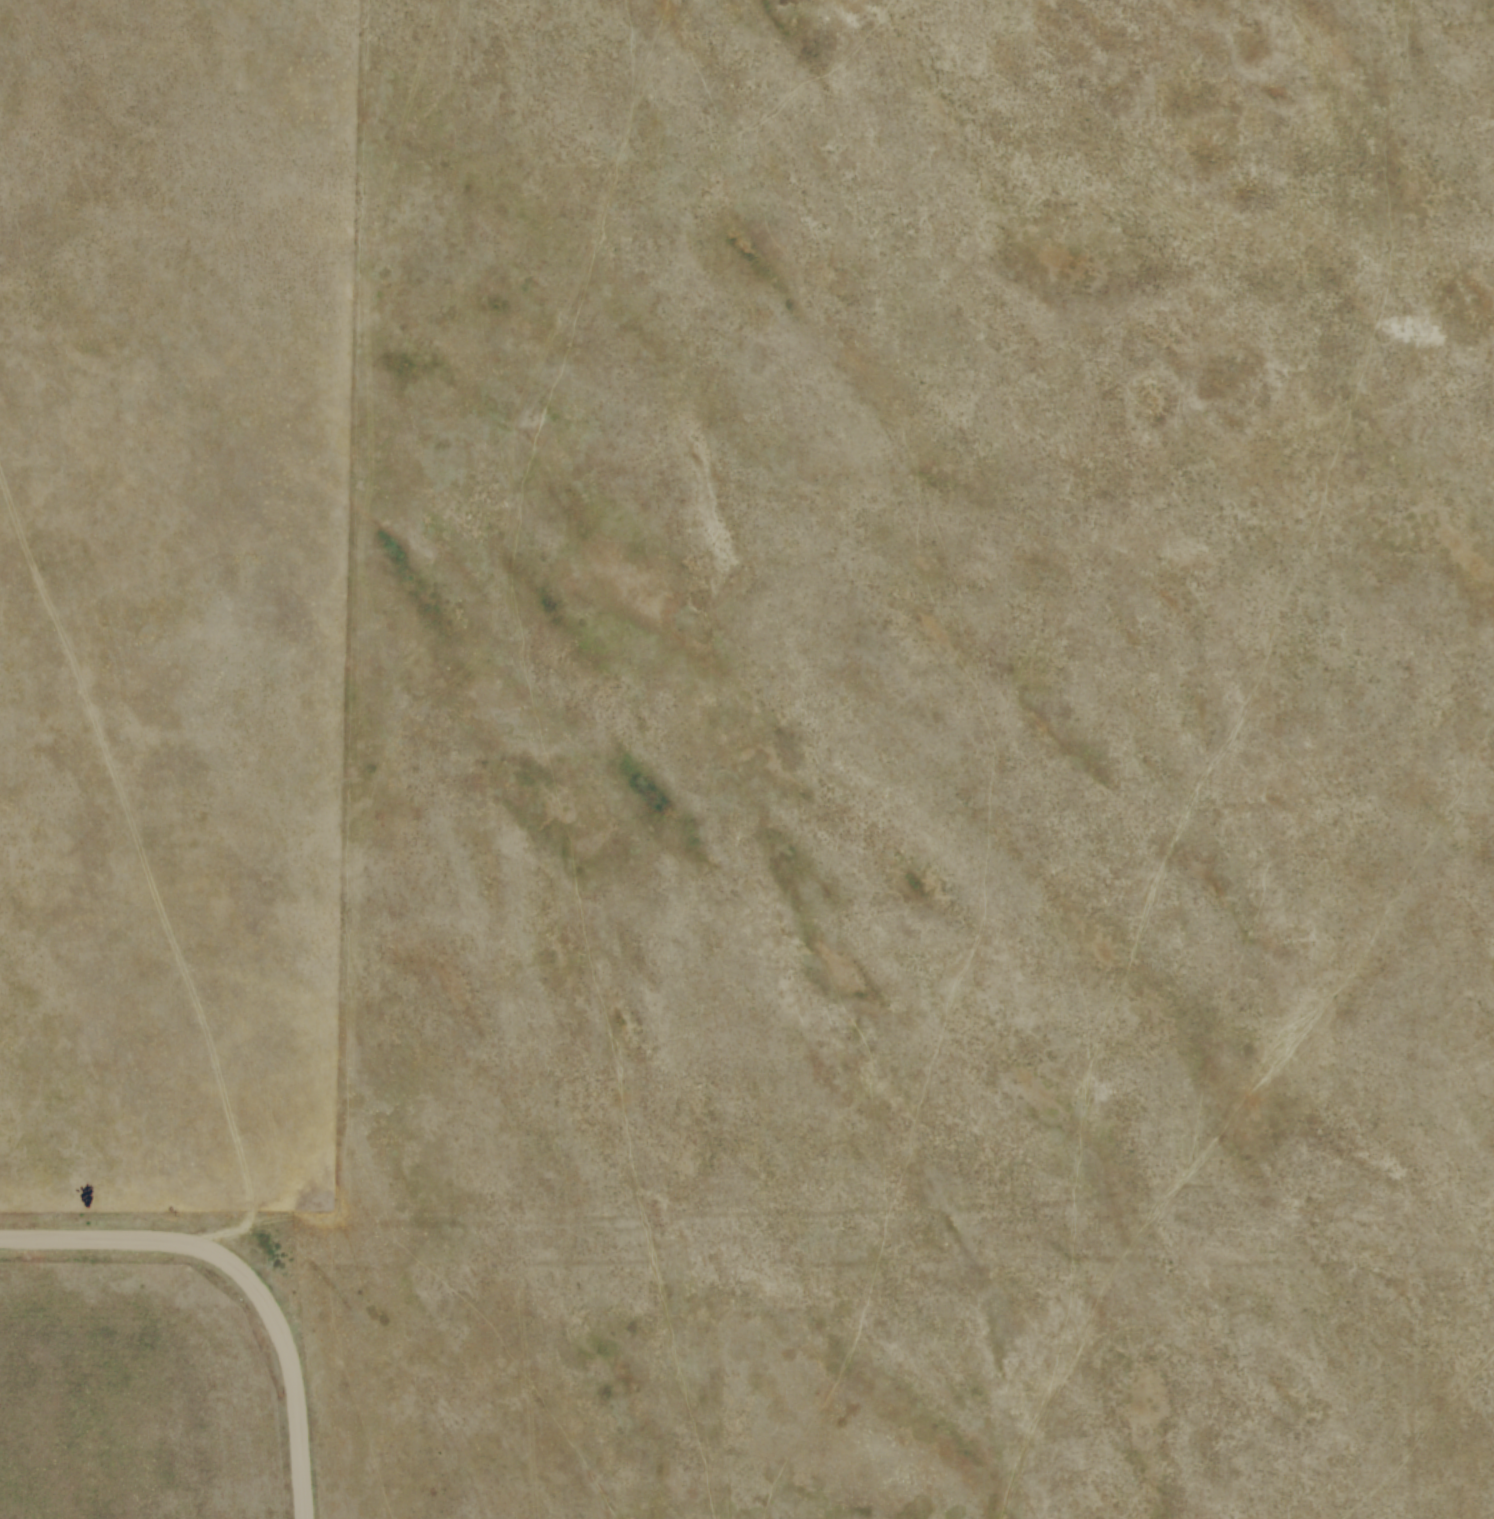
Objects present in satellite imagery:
road: (244, 1277)

